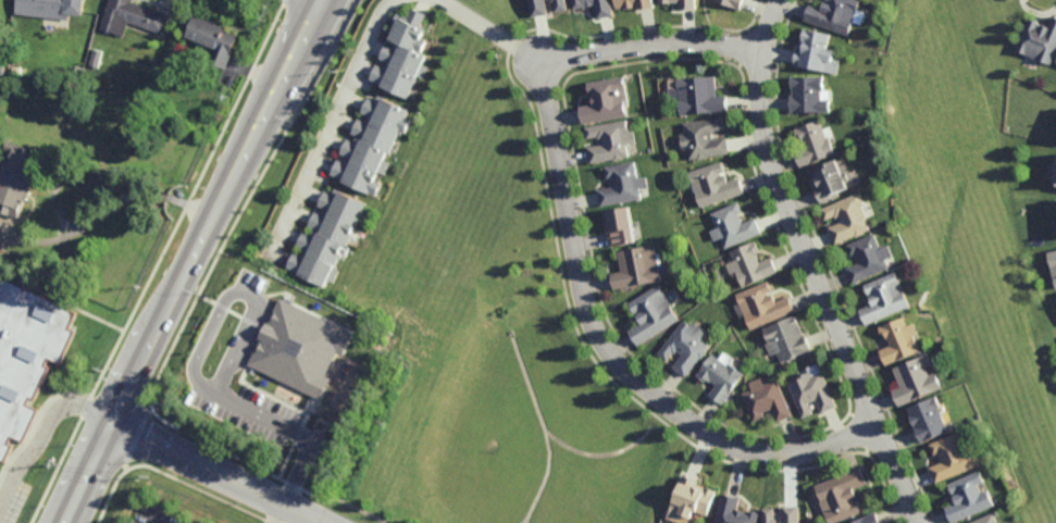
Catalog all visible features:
building: (664, 0)
building: (633, 2)
building: (687, 2)
building: (733, 2)
road: (322, 3)
building: (561, 4)
building: (59, 5)
building: (596, 5)
building: (538, 7)
building: (833, 14)
building: (133, 16)
road: (486, 27)
building: (214, 38)
building: (1041, 39)
building: (816, 52)
building: (402, 53)
building: (96, 58)
road: (263, 87)
road: (286, 92)
building: (809, 94)
building: (699, 95)
building: (605, 100)
road: (330, 123)
building: (704, 138)
building: (610, 140)
building: (813, 144)
building: (371, 145)
building: (1055, 164)
building: (830, 179)
building: (17, 180)
building: (1055, 182)
building: (621, 184)
building: (713, 184)
building: (848, 217)
building: (618, 226)
building: (732, 226)
building: (326, 237)
road: (575, 245)
building: (869, 258)
building: (750, 265)
building: (636, 266)
road: (812, 266)
building: (1054, 266)
road: (237, 292)
building: (886, 298)
building: (762, 306)
building: (650, 315)
building: (786, 339)
building: (900, 340)
building: (302, 347)
building: (685, 347)
road: (147, 351)
building: (26, 356)
building: (720, 378)
building: (917, 381)
building: (812, 394)
building: (766, 400)
building: (930, 419)
road: (291, 431)
road: (40, 432)
building: (953, 458)
road: (218, 473)
building: (842, 496)
building: (969, 498)
building: (691, 500)
building: (734, 511)
road: (277, 513)
building: (792, 514)
building: (769, 515)
road: (158, 519)
building: (870, 520)
building: (986, 520)

